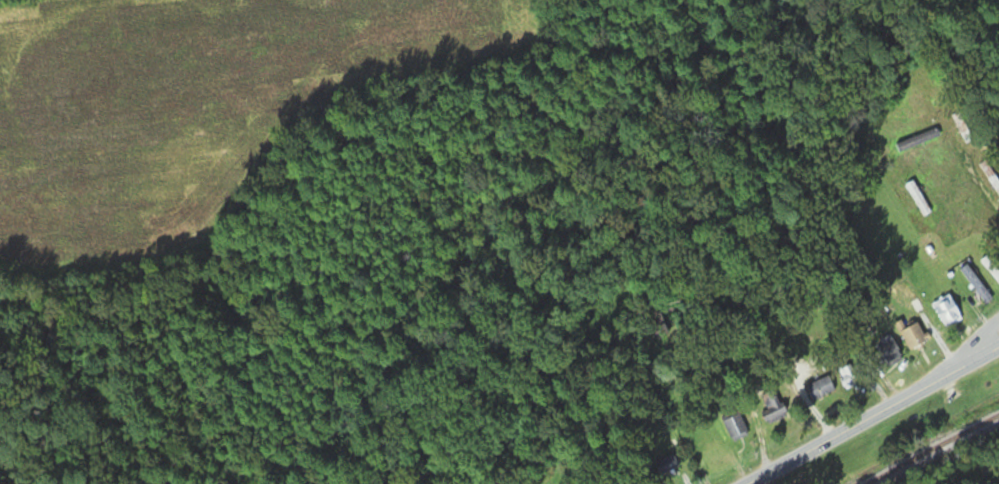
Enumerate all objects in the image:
building: (913, 143)
building: (990, 176)
road: (986, 190)
building: (918, 198)
building: (991, 268)
building: (976, 283)
building: (947, 311)
building: (913, 334)
road: (807, 336)
road: (977, 344)
building: (888, 352)
building: (851, 375)
building: (820, 389)
building: (773, 406)
road: (873, 415)
building: (735, 426)
railway: (936, 451)
road: (960, 462)
building: (667, 464)

